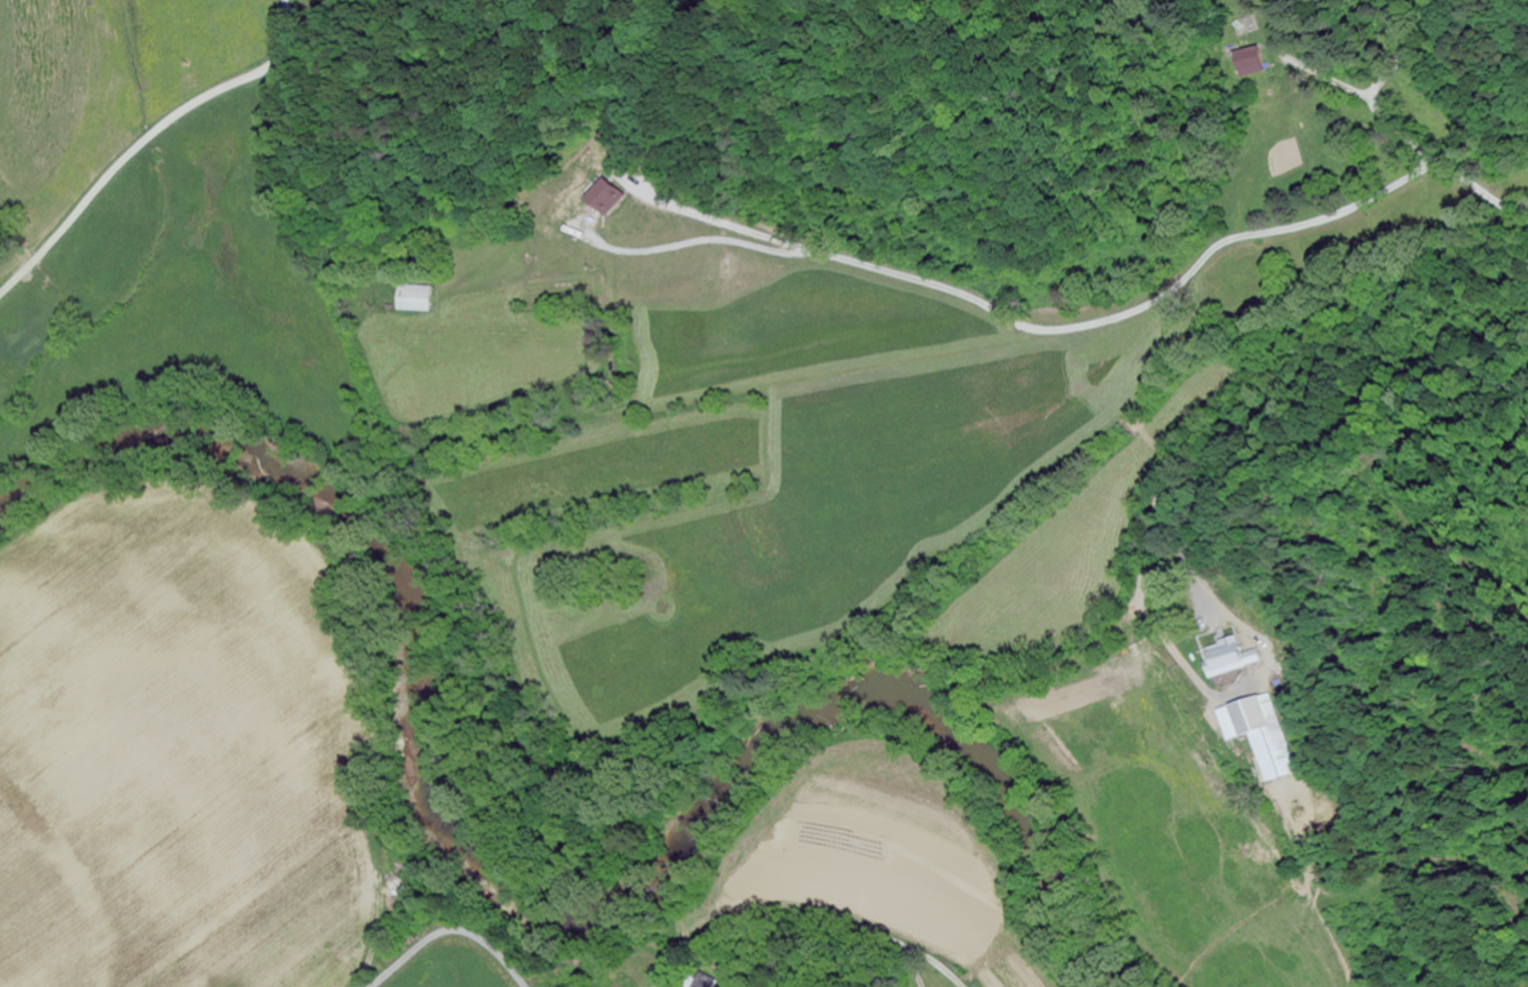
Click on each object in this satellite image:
building: (253, 9)
road: (145, 139)
building: (412, 299)
road: (814, 647)
building: (1220, 657)
road: (714, 711)
building: (1256, 734)
road: (450, 932)
building: (704, 981)

